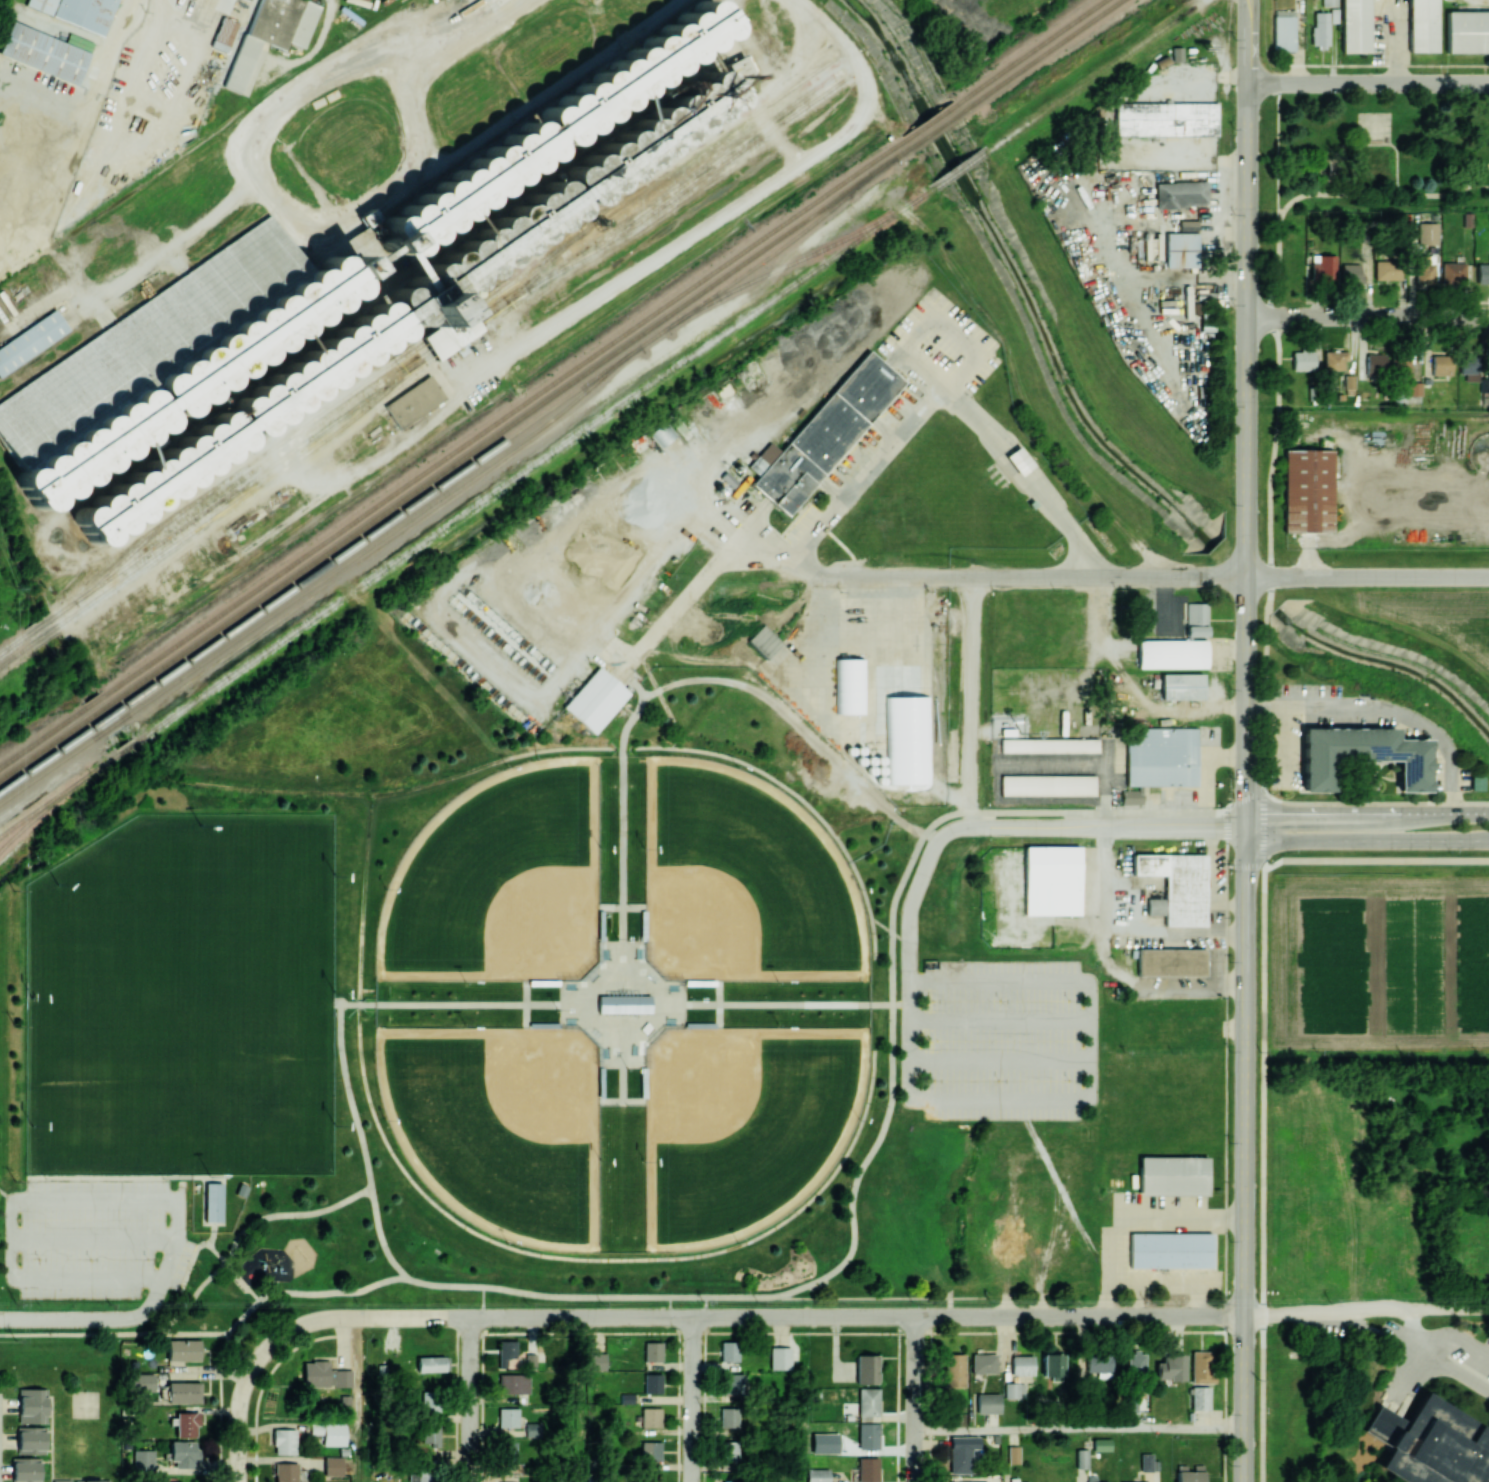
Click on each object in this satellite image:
building: (1327, 2)
road: (155, 4)
road: (1244, 4)
road: (1247, 4)
building: (77, 11)
building: (1357, 25)
building: (1422, 25)
road: (445, 27)
building: (1320, 28)
building: (1283, 30)
building: (1467, 31)
building: (272, 32)
building: (224, 34)
road: (115, 41)
road: (1392, 43)
building: (46, 51)
railway: (1028, 51)
railway: (1040, 56)
road: (1365, 64)
railway: (1090, 76)
road: (1368, 81)
building: (1165, 118)
railway: (928, 121)
park: (1373, 125)
building: (551, 128)
railway: (933, 129)
road: (142, 140)
railway: (901, 151)
park: (1359, 163)
railway: (957, 169)
railway: (657, 179)
railway: (689, 184)
building: (1180, 194)
building: (561, 204)
road: (1419, 204)
road: (288, 211)
railway: (778, 224)
building: (1187, 225)
building: (1427, 233)
railway: (777, 237)
building: (1181, 249)
road: (165, 250)
railway: (793, 261)
road: (644, 265)
building: (1323, 267)
building: (1424, 268)
building: (1387, 270)
building: (1452, 272)
building: (1351, 273)
building: (1482, 273)
river: (1021, 282)
road: (938, 316)
road: (1367, 316)
building: (31, 340)
railway: (448, 340)
building: (163, 358)
building: (1334, 359)
building: (1302, 360)
building: (1374, 364)
building: (1441, 365)
building: (1401, 366)
building: (1473, 367)
building: (1348, 384)
building: (1411, 389)
road: (946, 393)
road: (1278, 396)
building: (413, 401)
railway: (327, 407)
road: (1246, 418)
building: (233, 424)
building: (661, 433)
building: (823, 434)
building: (1019, 460)
railway: (450, 476)
building: (1307, 490)
railway: (241, 496)
railway: (464, 512)
road: (696, 517)
road: (715, 531)
railway: (327, 538)
railway: (330, 547)
road: (753, 548)
road: (1108, 576)
river: (1245, 576)
railway: (323, 577)
road: (1367, 577)
road: (896, 602)
building: (1196, 619)
railway: (40, 624)
railway: (46, 631)
road: (460, 637)
building: (761, 641)
railway: (13, 642)
road: (923, 650)
railway: (17, 652)
building: (1171, 653)
river: (1387, 661)
building: (849, 685)
building: (1181, 686)
building: (897, 691)
building: (596, 698)
road: (971, 700)
road: (1384, 708)
road: (795, 722)
road: (832, 726)
building: (1049, 745)
building: (1362, 755)
building: (1158, 759)
building: (1475, 782)
building: (1047, 785)
road: (407, 788)
road: (622, 796)
road: (799, 796)
road: (1375, 804)
railway: (44, 807)
road: (1364, 812)
road: (1109, 826)
traffic signals: (1246, 827)
road: (1262, 828)
road: (1365, 839)
road: (1374, 859)
park: (500, 880)
park: (743, 880)
building: (1052, 880)
building: (1176, 886)
road: (363, 894)
road: (888, 929)
building: (1171, 961)
crop: (1379, 962)
park: (183, 998)
road: (728, 1002)
road: (458, 1003)
building: (625, 1004)
road: (1000, 1019)
road: (621, 1020)
park: (110, 1026)
road: (567, 1027)
park: (564, 1029)
parking lot: (998, 1039)
park: (257, 1042)
road: (1000, 1059)
road: (996, 1099)
road: (889, 1104)
park: (743, 1124)
park: (500, 1125)
road: (363, 1144)
road: (1244, 1154)
building: (1172, 1175)
building: (241, 1190)
building: (215, 1202)
road: (1139, 1219)
crop: (1478, 1221)
road: (9, 1229)
road: (239, 1234)
road: (93, 1236)
parking lot: (91, 1237)
road: (173, 1245)
building: (1169, 1250)
road: (597, 1258)
road: (1163, 1286)
road: (1107, 1299)
road: (1138, 1300)
road: (1195, 1302)
road: (1366, 1310)
road: (748, 1316)
road: (84, 1319)
road: (213, 1332)
road: (1453, 1336)
building: (183, 1349)
building: (506, 1351)
building: (652, 1351)
building: (729, 1351)
building: (779, 1357)
building: (597, 1361)
building: (432, 1363)
building: (983, 1363)
building: (1135, 1363)
building: (1052, 1364)
building: (1099, 1364)
building: (1022, 1365)
road: (1432, 1365)
building: (1201, 1366)
building: (1170, 1367)
building: (866, 1369)
building: (954, 1370)
building: (324, 1375)
building: (140, 1381)
building: (513, 1383)
building: (652, 1383)
building: (731, 1383)
building: (1013, 1390)
building: (183, 1392)
building: (626, 1398)
building: (1200, 1398)
road: (578, 1399)
road: (691, 1399)
road: (920, 1399)
road: (470, 1400)
building: (430, 1401)
building: (868, 1403)
building: (988, 1403)
building: (1132, 1404)
building: (32, 1405)
road: (238, 1413)
building: (508, 1417)
building: (650, 1417)
building: (729, 1417)
building: (186, 1423)
road: (1081, 1428)
building: (329, 1432)
building: (868, 1435)
building: (430, 1437)
building: (31, 1439)
building: (284, 1441)
building: (1430, 1443)
building: (1102, 1444)
road: (357, 1446)
building: (651, 1450)
building: (729, 1450)
building: (183, 1453)
building: (510, 1453)
building: (961, 1453)
building: (1013, 1454)
building: (1081, 1458)
building: (143, 1460)
building: (1145, 1462)
building: (332, 1466)
building: (25, 1469)
building: (868, 1469)
building: (423, 1471)
building: (286, 1472)
building: (1189, 1473)
building: (817, 1474)
building: (652, 1478)
building: (1090, 1478)
building: (61, 1480)
building: (1480, 1480)
building: (91, 1481)
building: (512, 1481)
building: (729, 1481)
building: (952, 1481)
building: (1026, 1481)
building: (1145, 1481)

